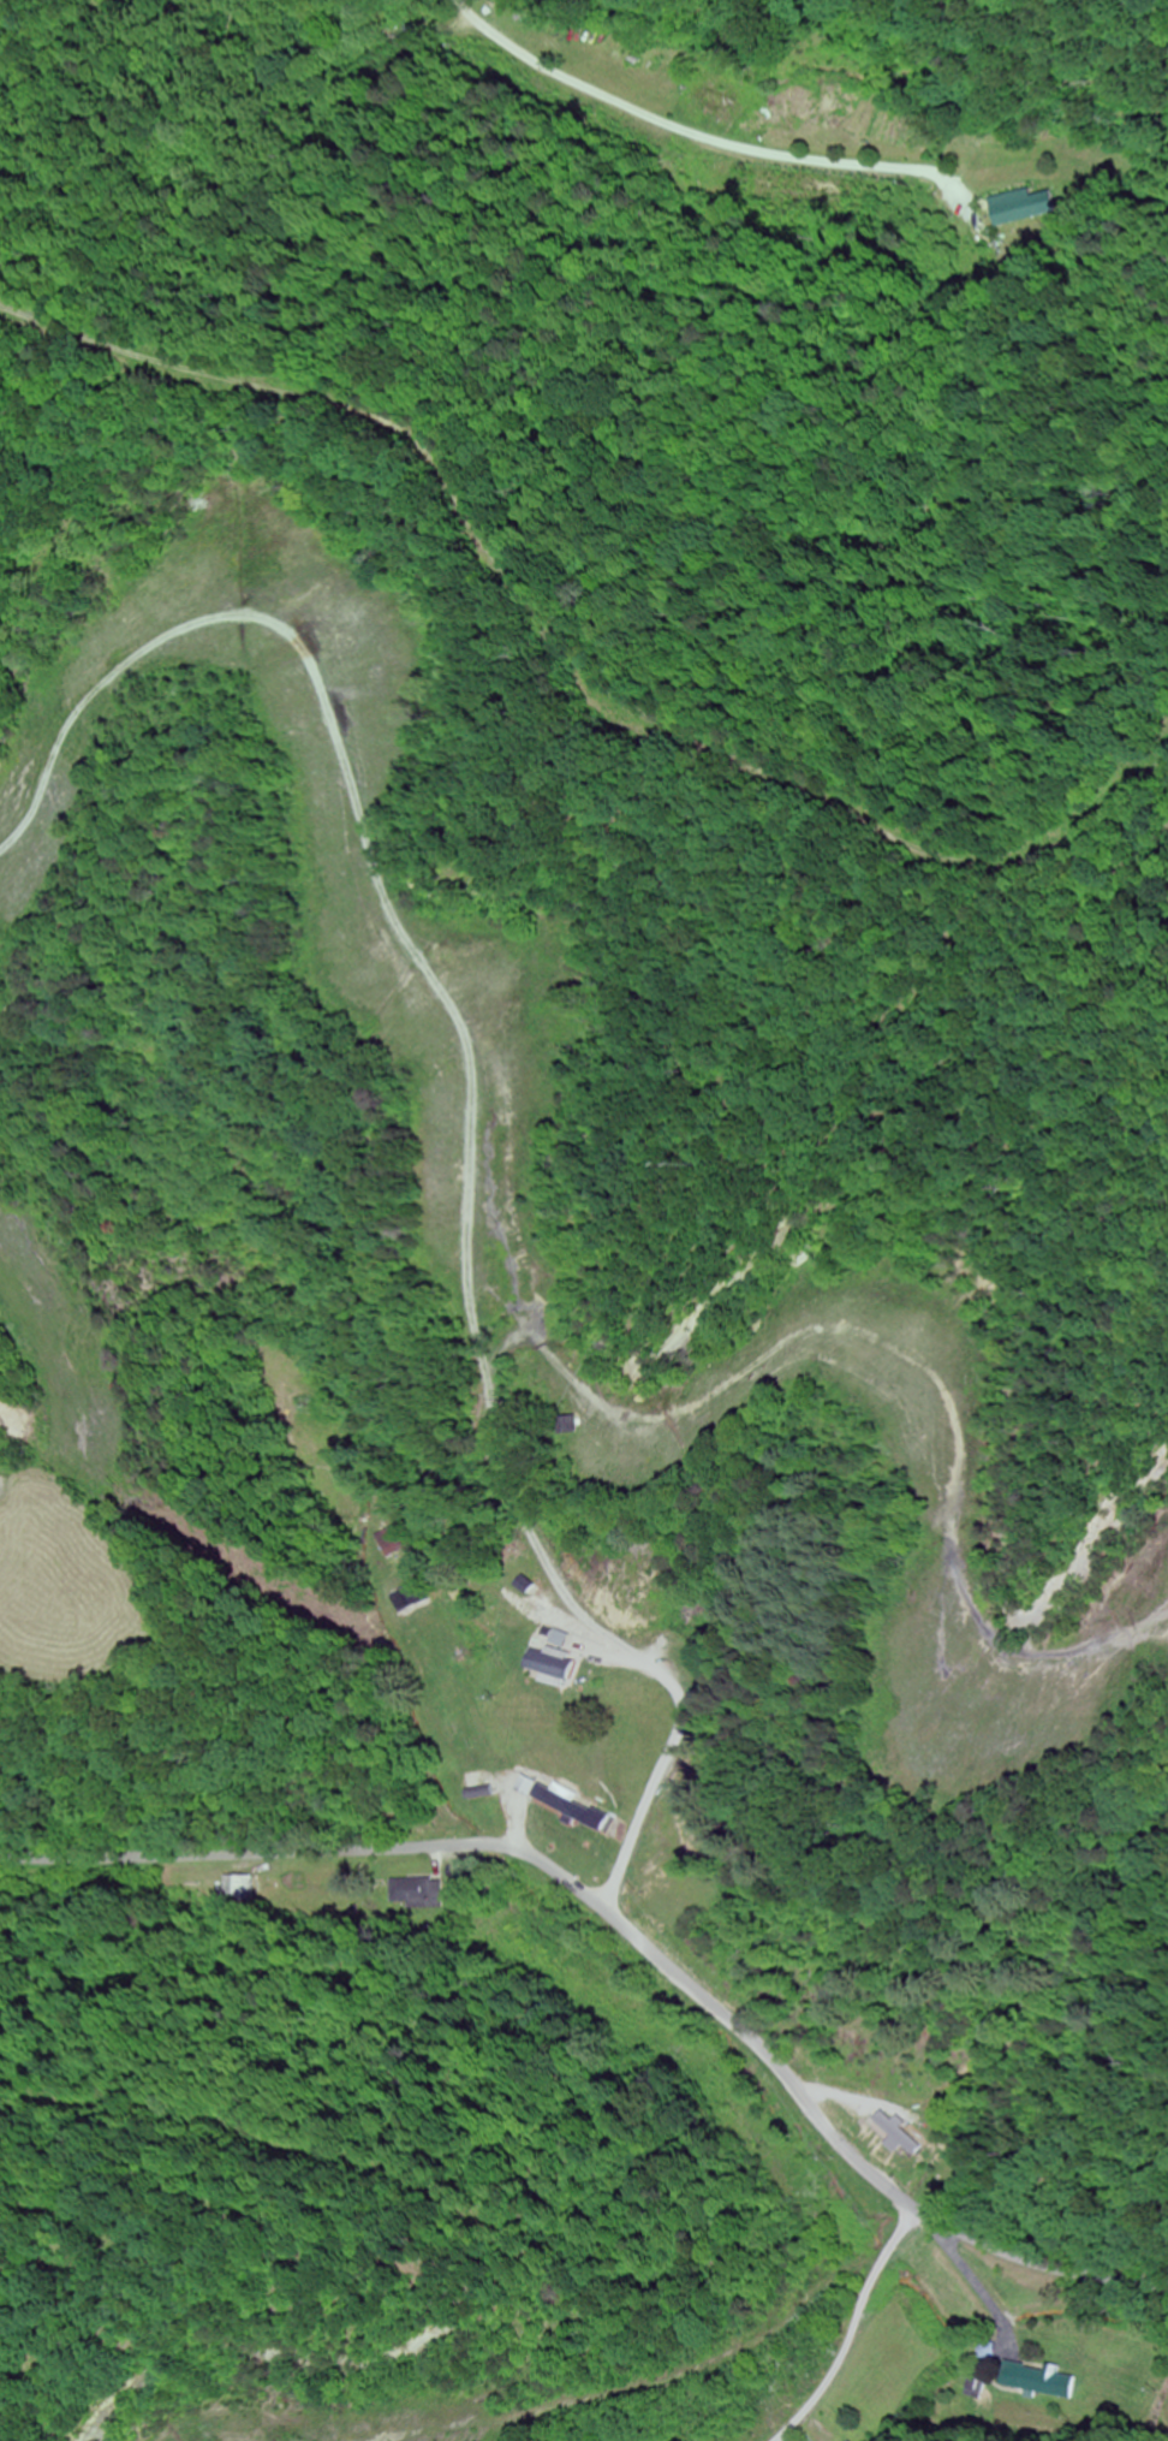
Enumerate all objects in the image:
road: (467, 11)
building: (1032, 207)
building: (555, 1800)
building: (246, 1889)
road: (630, 1936)
building: (896, 2133)
road: (874, 2332)
road: (938, 2354)
building: (1041, 2382)

